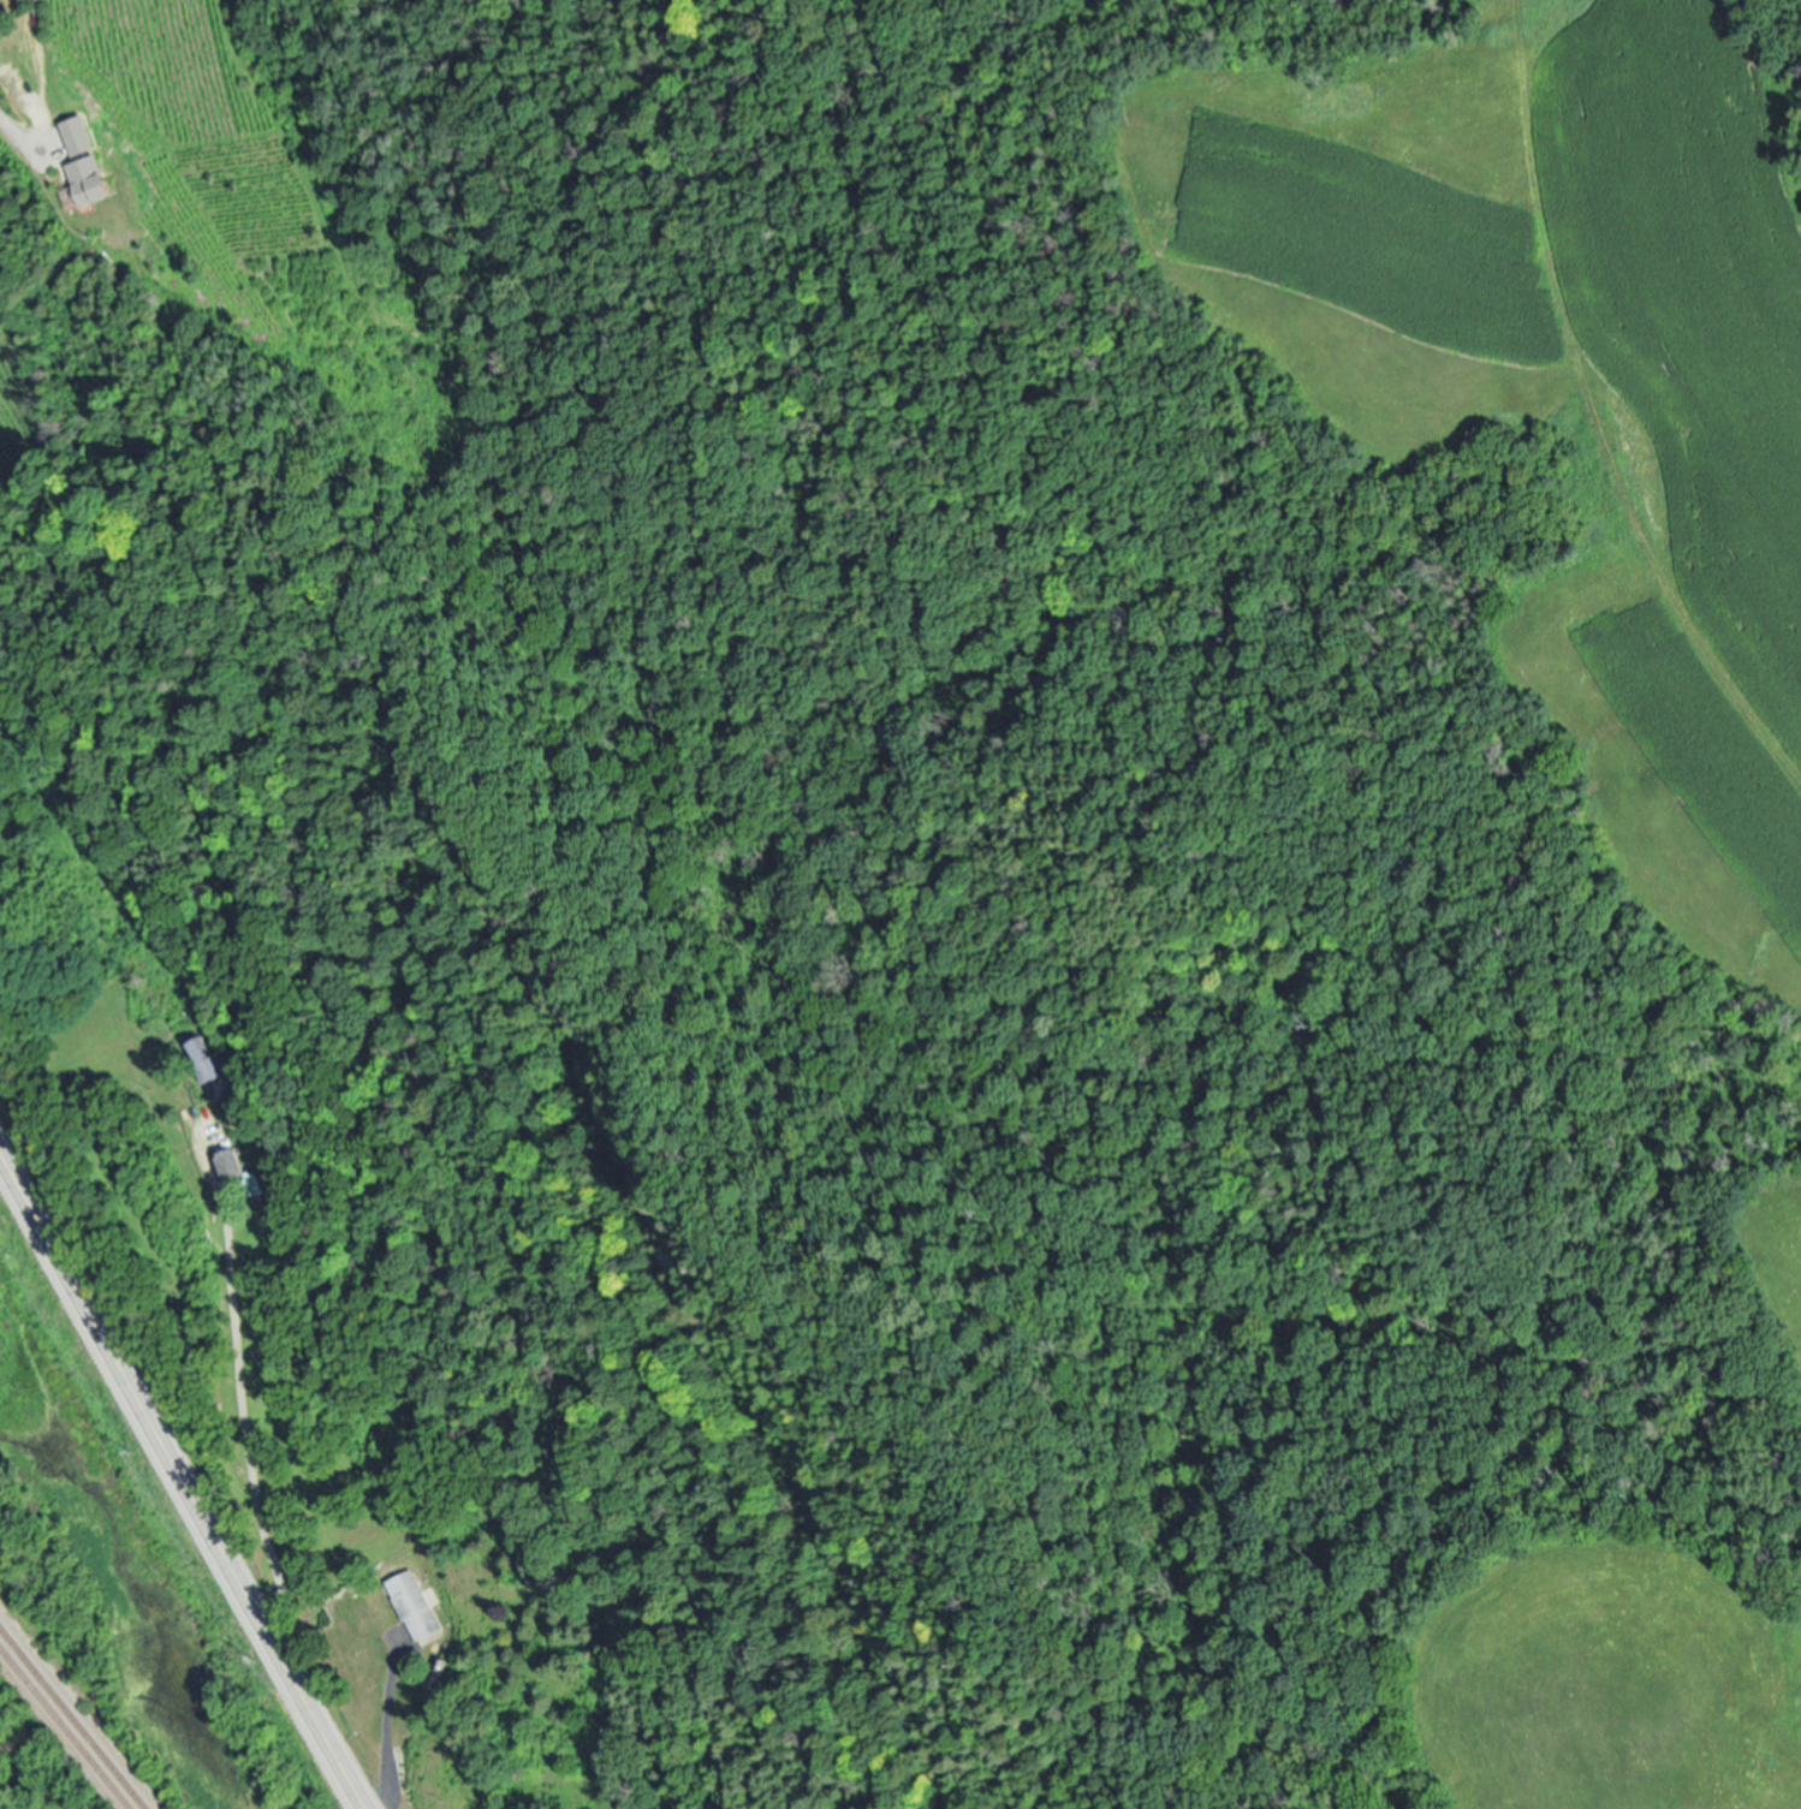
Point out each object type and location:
road: (17, 137)
road: (244, 1408)
road: (182, 1481)
railway: (73, 1716)
road: (379, 1722)
railway: (66, 1726)

